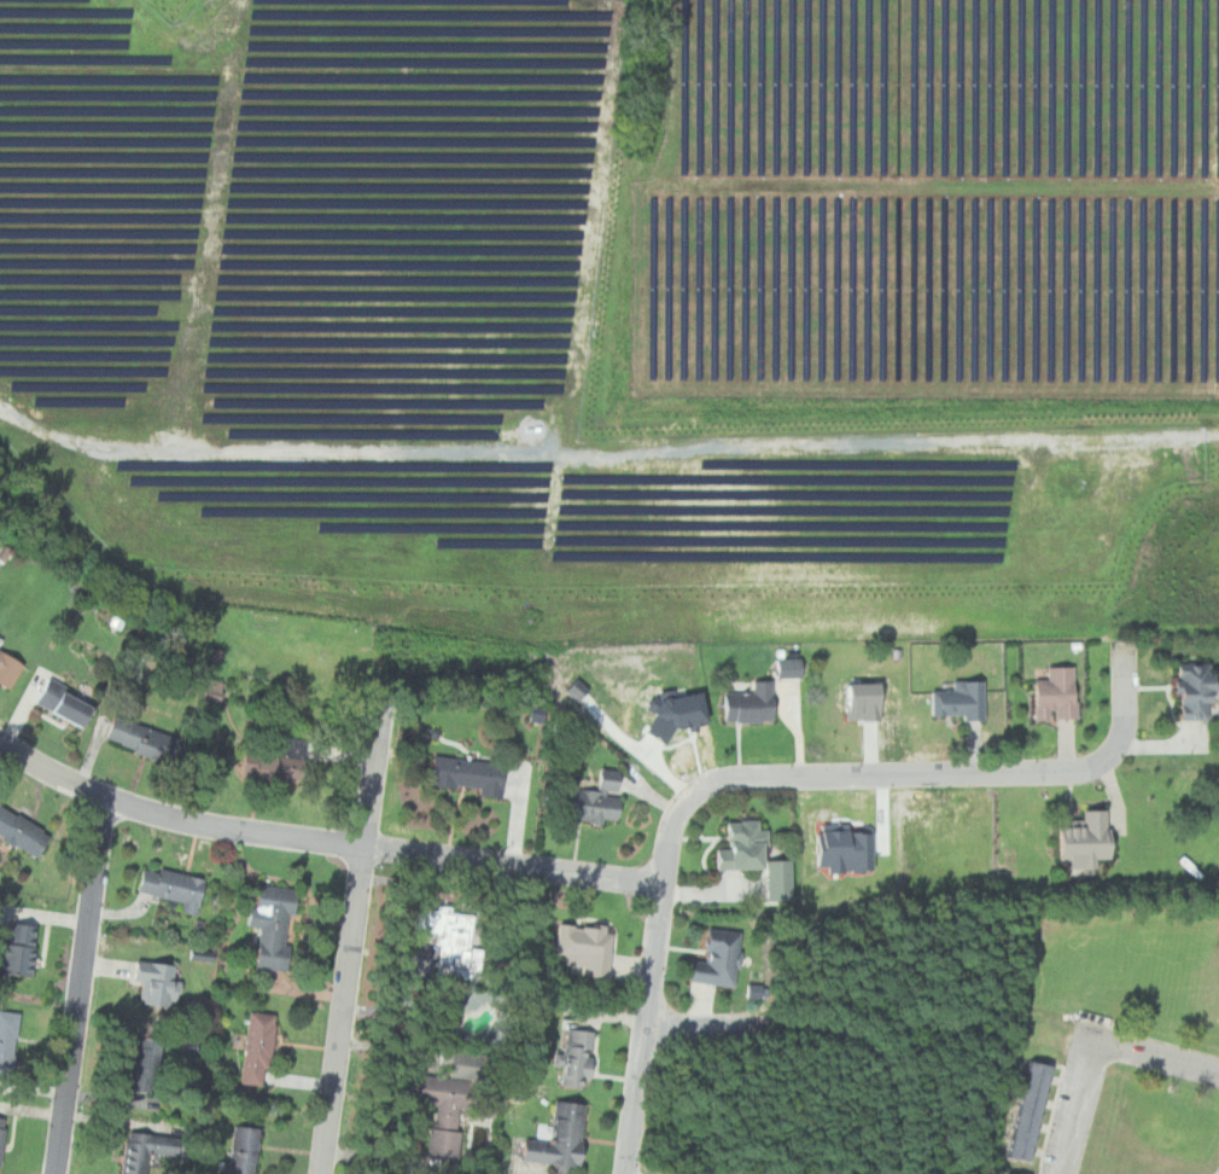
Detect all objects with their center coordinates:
road: (861, 423)
building: (11, 666)
building: (791, 668)
building: (1198, 688)
building: (216, 693)
building: (1056, 693)
building: (956, 701)
building: (71, 703)
building: (752, 703)
building: (682, 713)
building: (148, 738)
building: (279, 761)
building: (469, 775)
road: (766, 781)
building: (597, 800)
building: (22, 832)
building: (1085, 837)
road: (322, 842)
building: (745, 844)
building: (174, 885)
building: (273, 923)
road: (351, 940)
building: (456, 940)
building: (19, 941)
building: (583, 947)
building: (718, 958)
building: (153, 980)
road: (78, 986)
road: (791, 1027)
building: (7, 1039)
building: (258, 1047)
road: (1150, 1053)
building: (578, 1054)
building: (147, 1063)
building: (453, 1097)
building: (1031, 1109)
road: (1079, 1120)
building: (1, 1134)
building: (561, 1137)
building: (146, 1149)
building: (244, 1149)
building: (1015, 1170)

